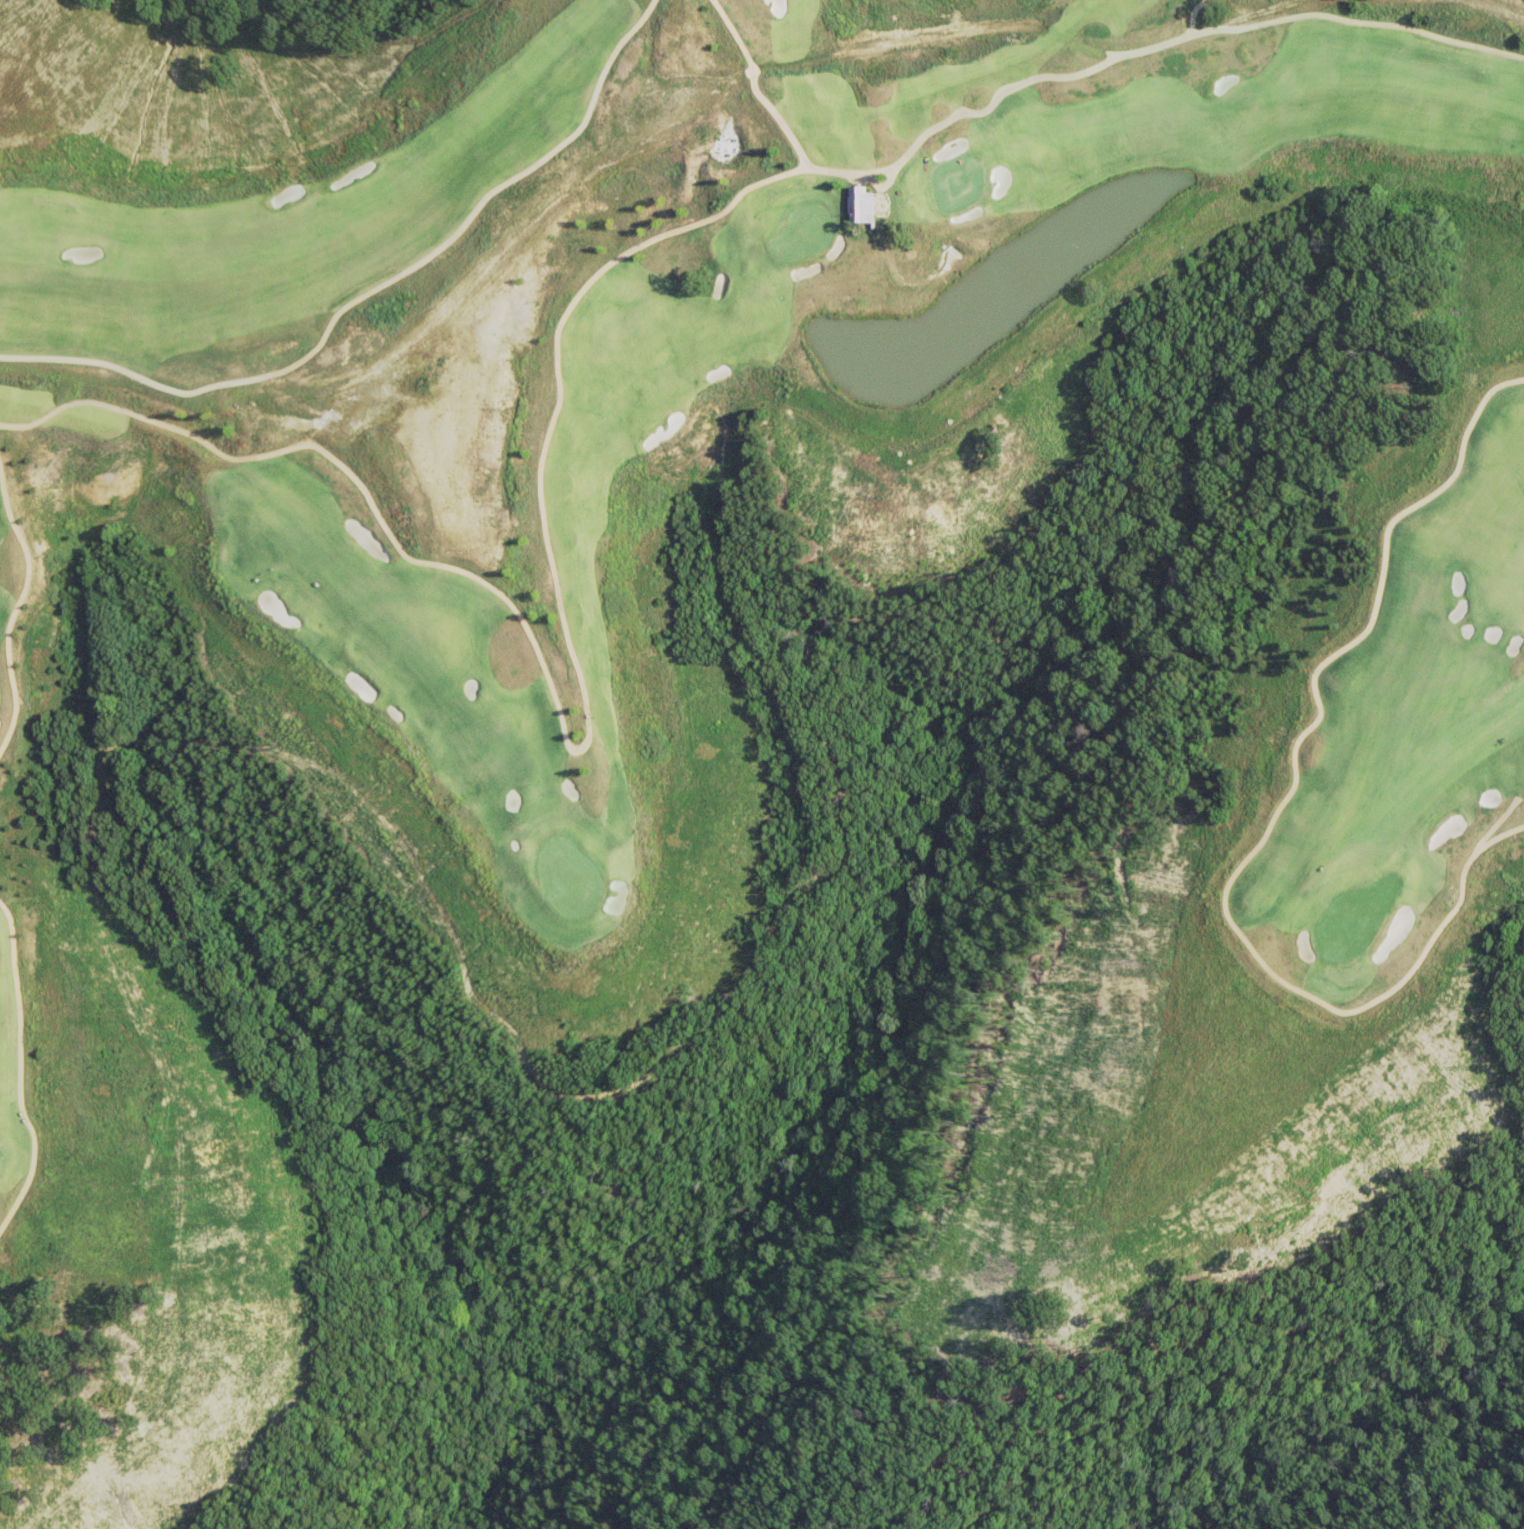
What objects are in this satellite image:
building: (860, 205)

